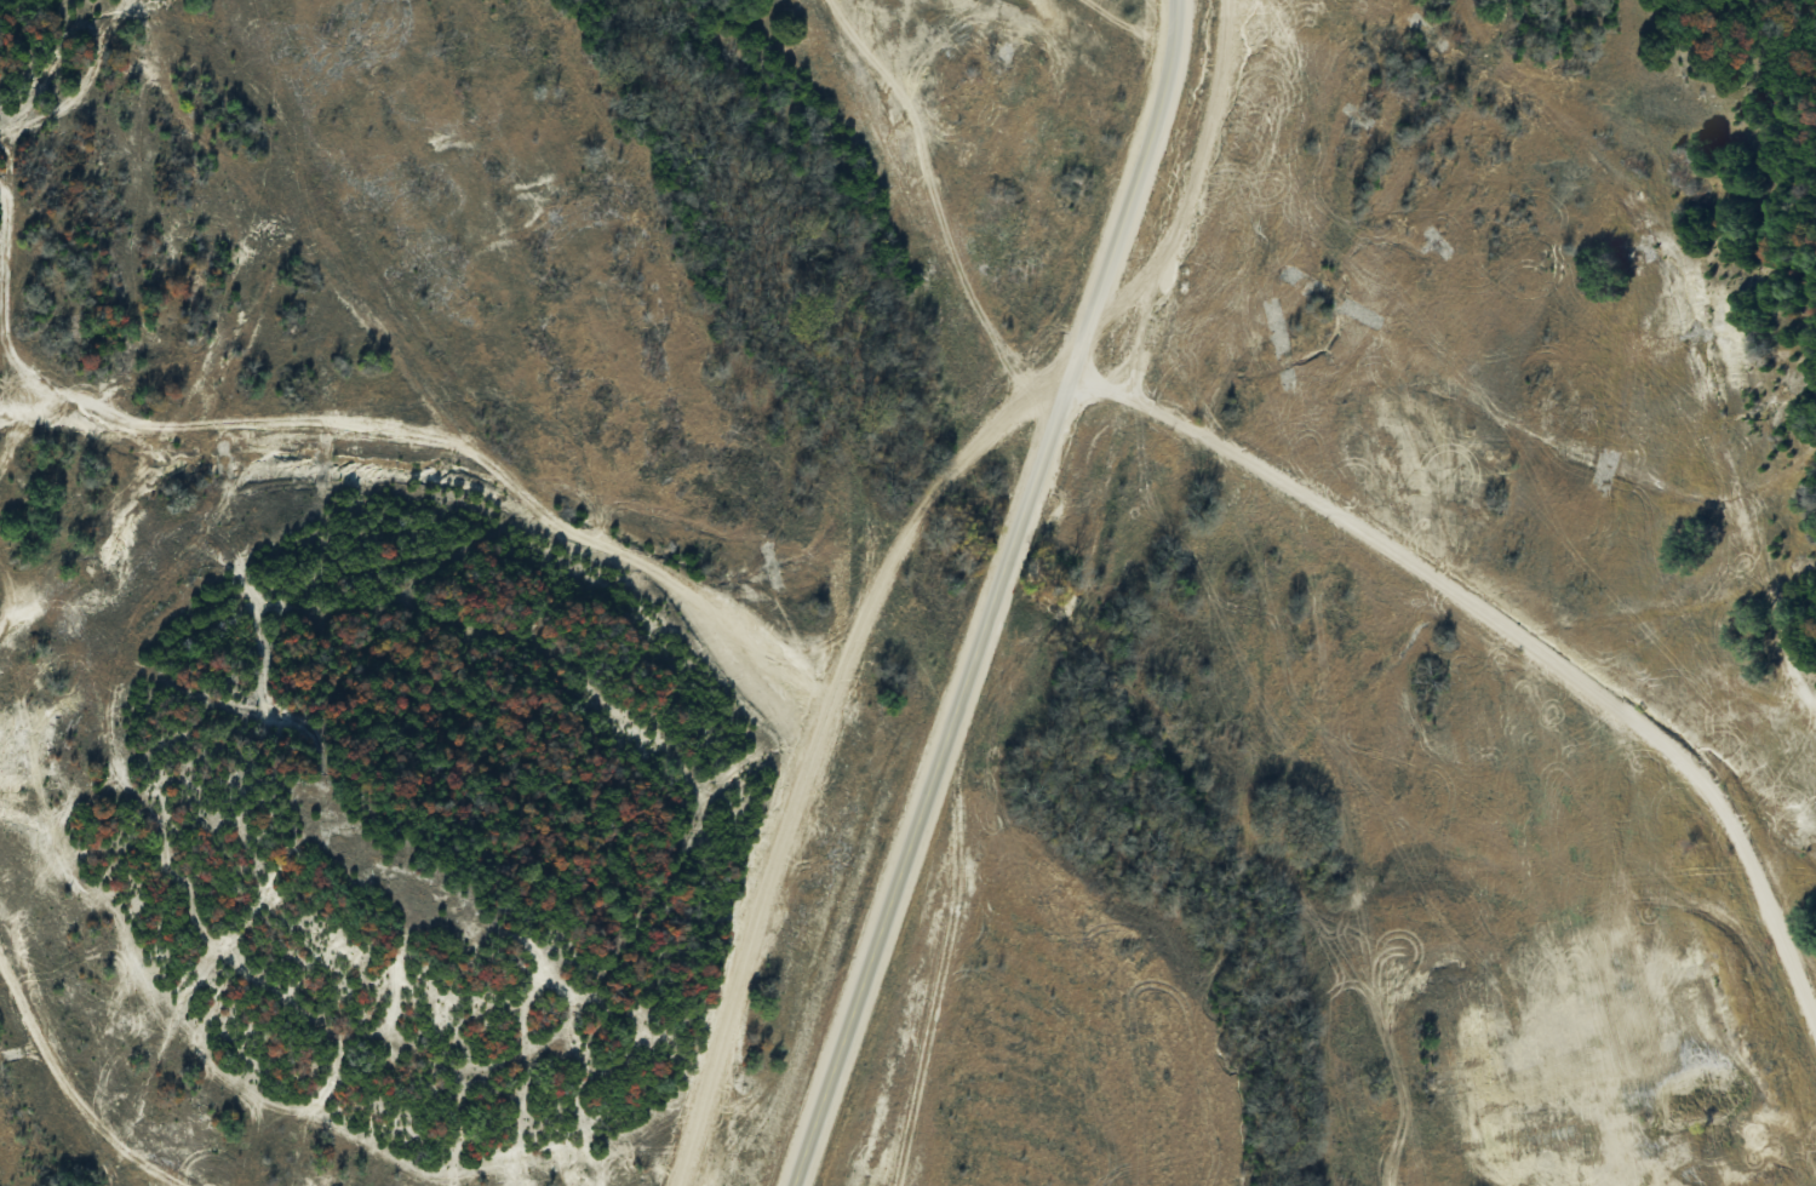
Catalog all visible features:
road: (1188, 197)
road: (993, 595)
road: (1531, 652)
road: (831, 724)

